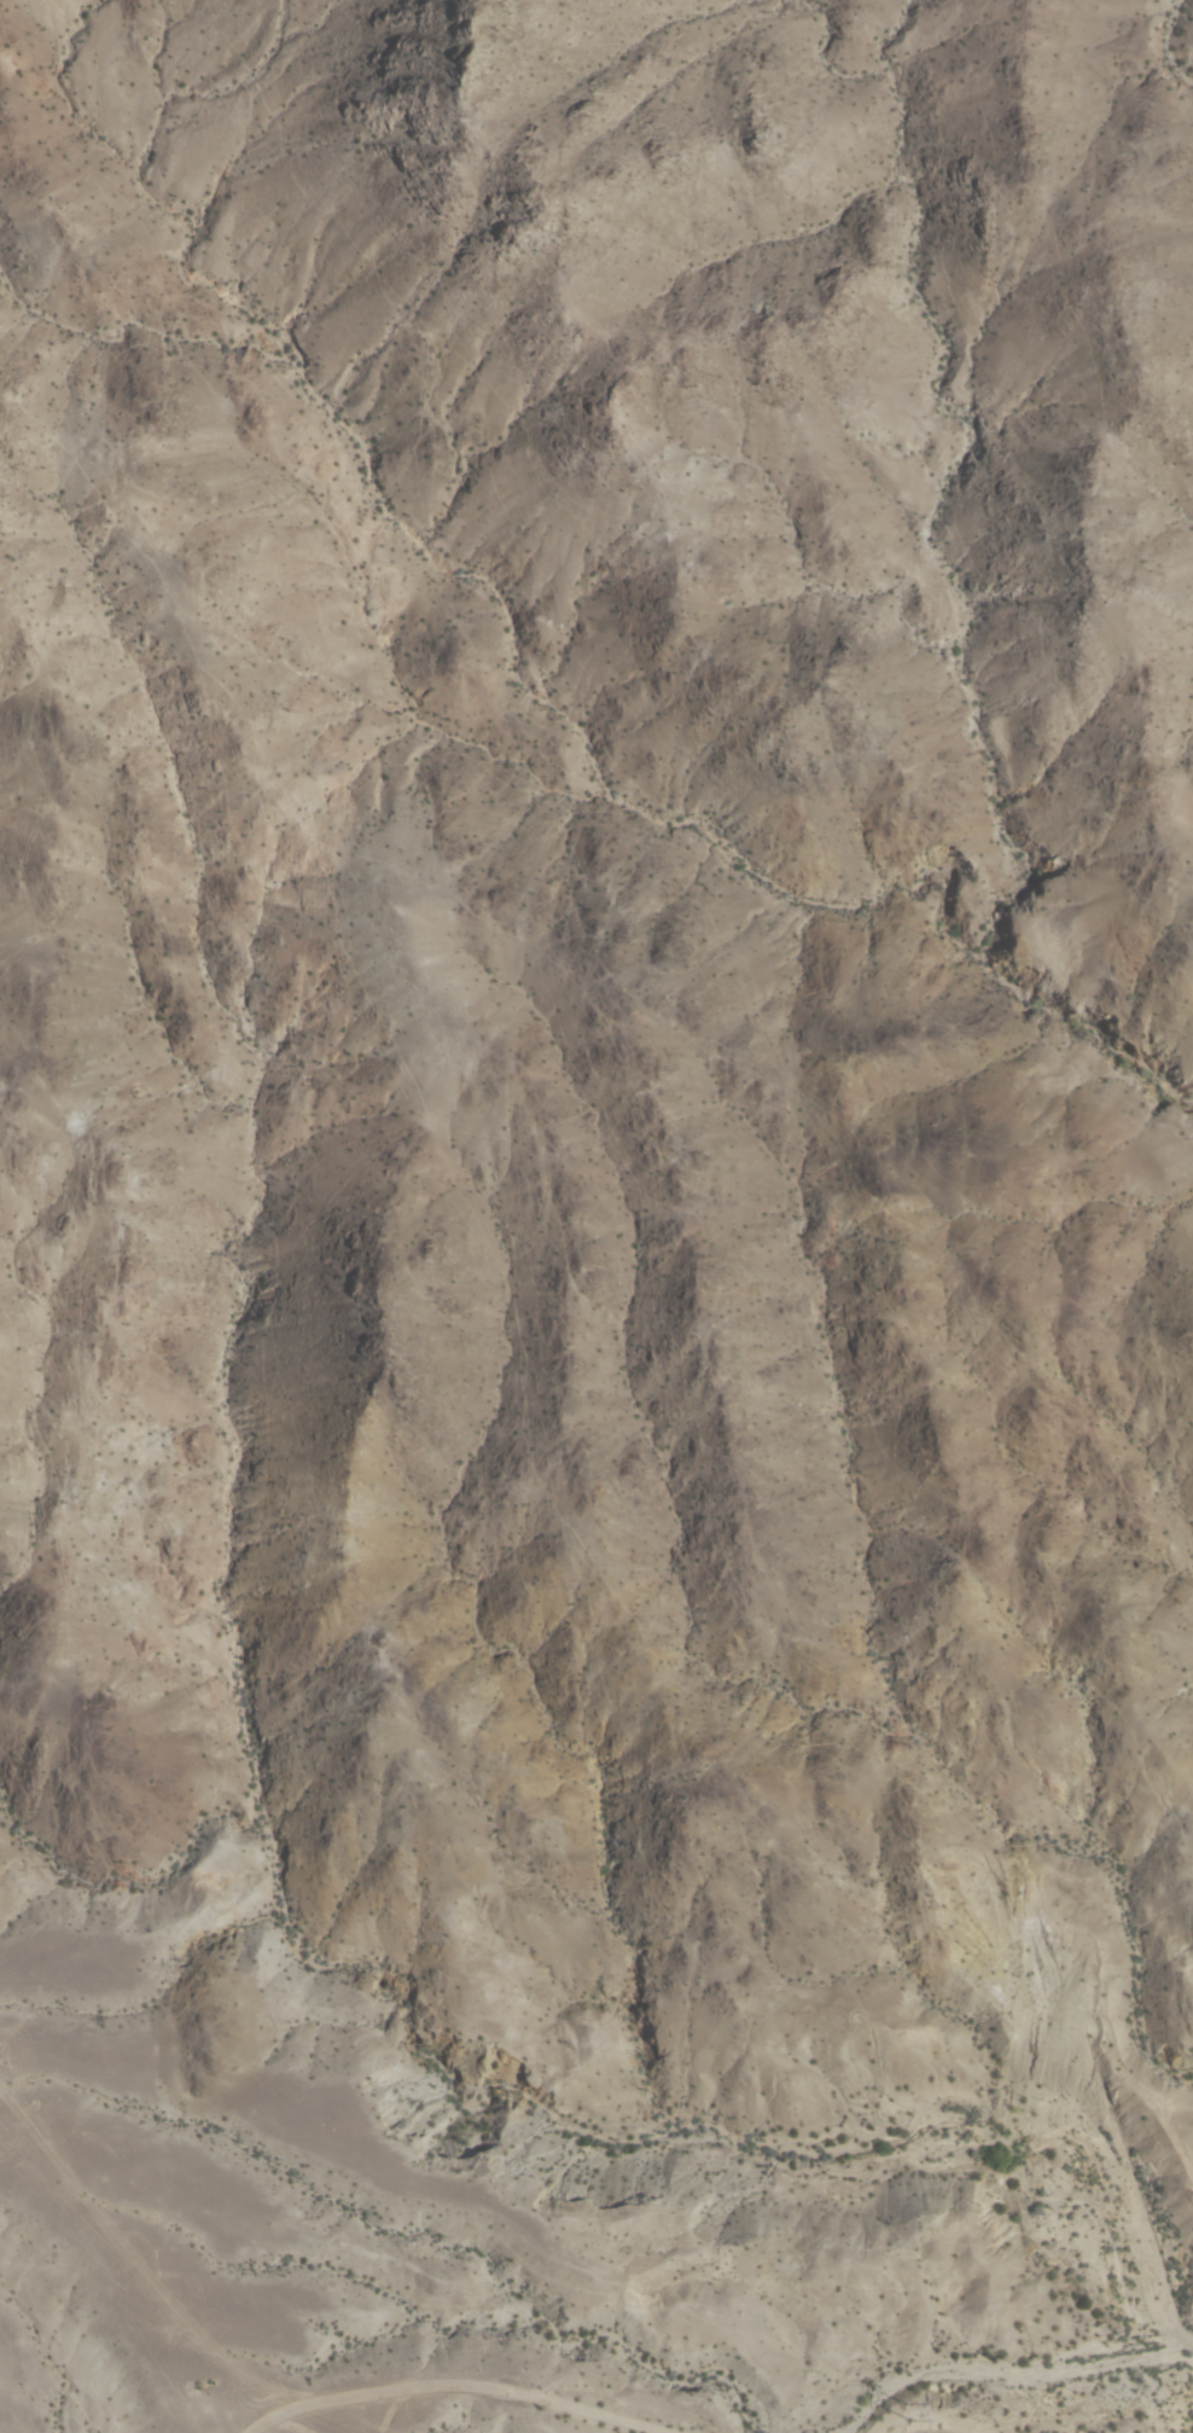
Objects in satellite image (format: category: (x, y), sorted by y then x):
power tower: (912, 2411)

